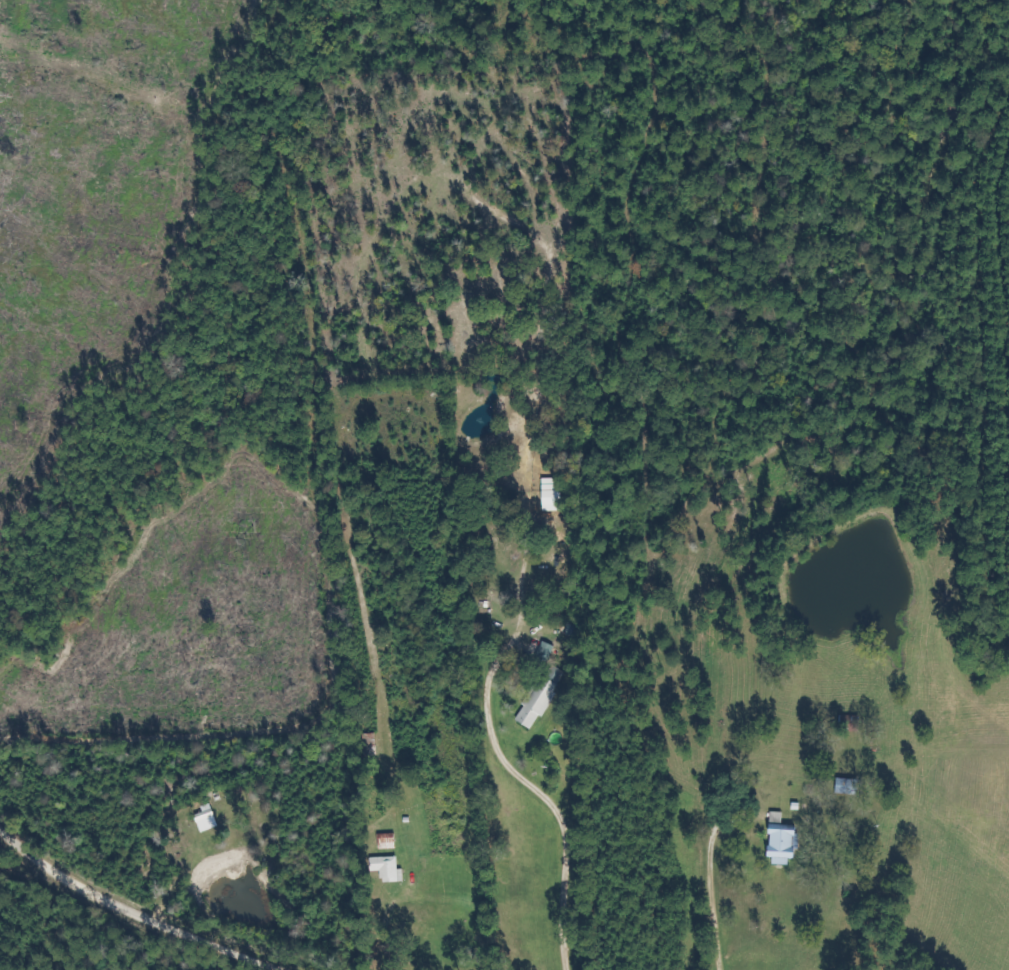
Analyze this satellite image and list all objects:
building: (532, 701)
building: (844, 723)
building: (841, 786)
road: (571, 826)
building: (384, 840)
building: (774, 844)
road: (35, 859)
road: (736, 898)
road: (30, 920)
road: (170, 922)

